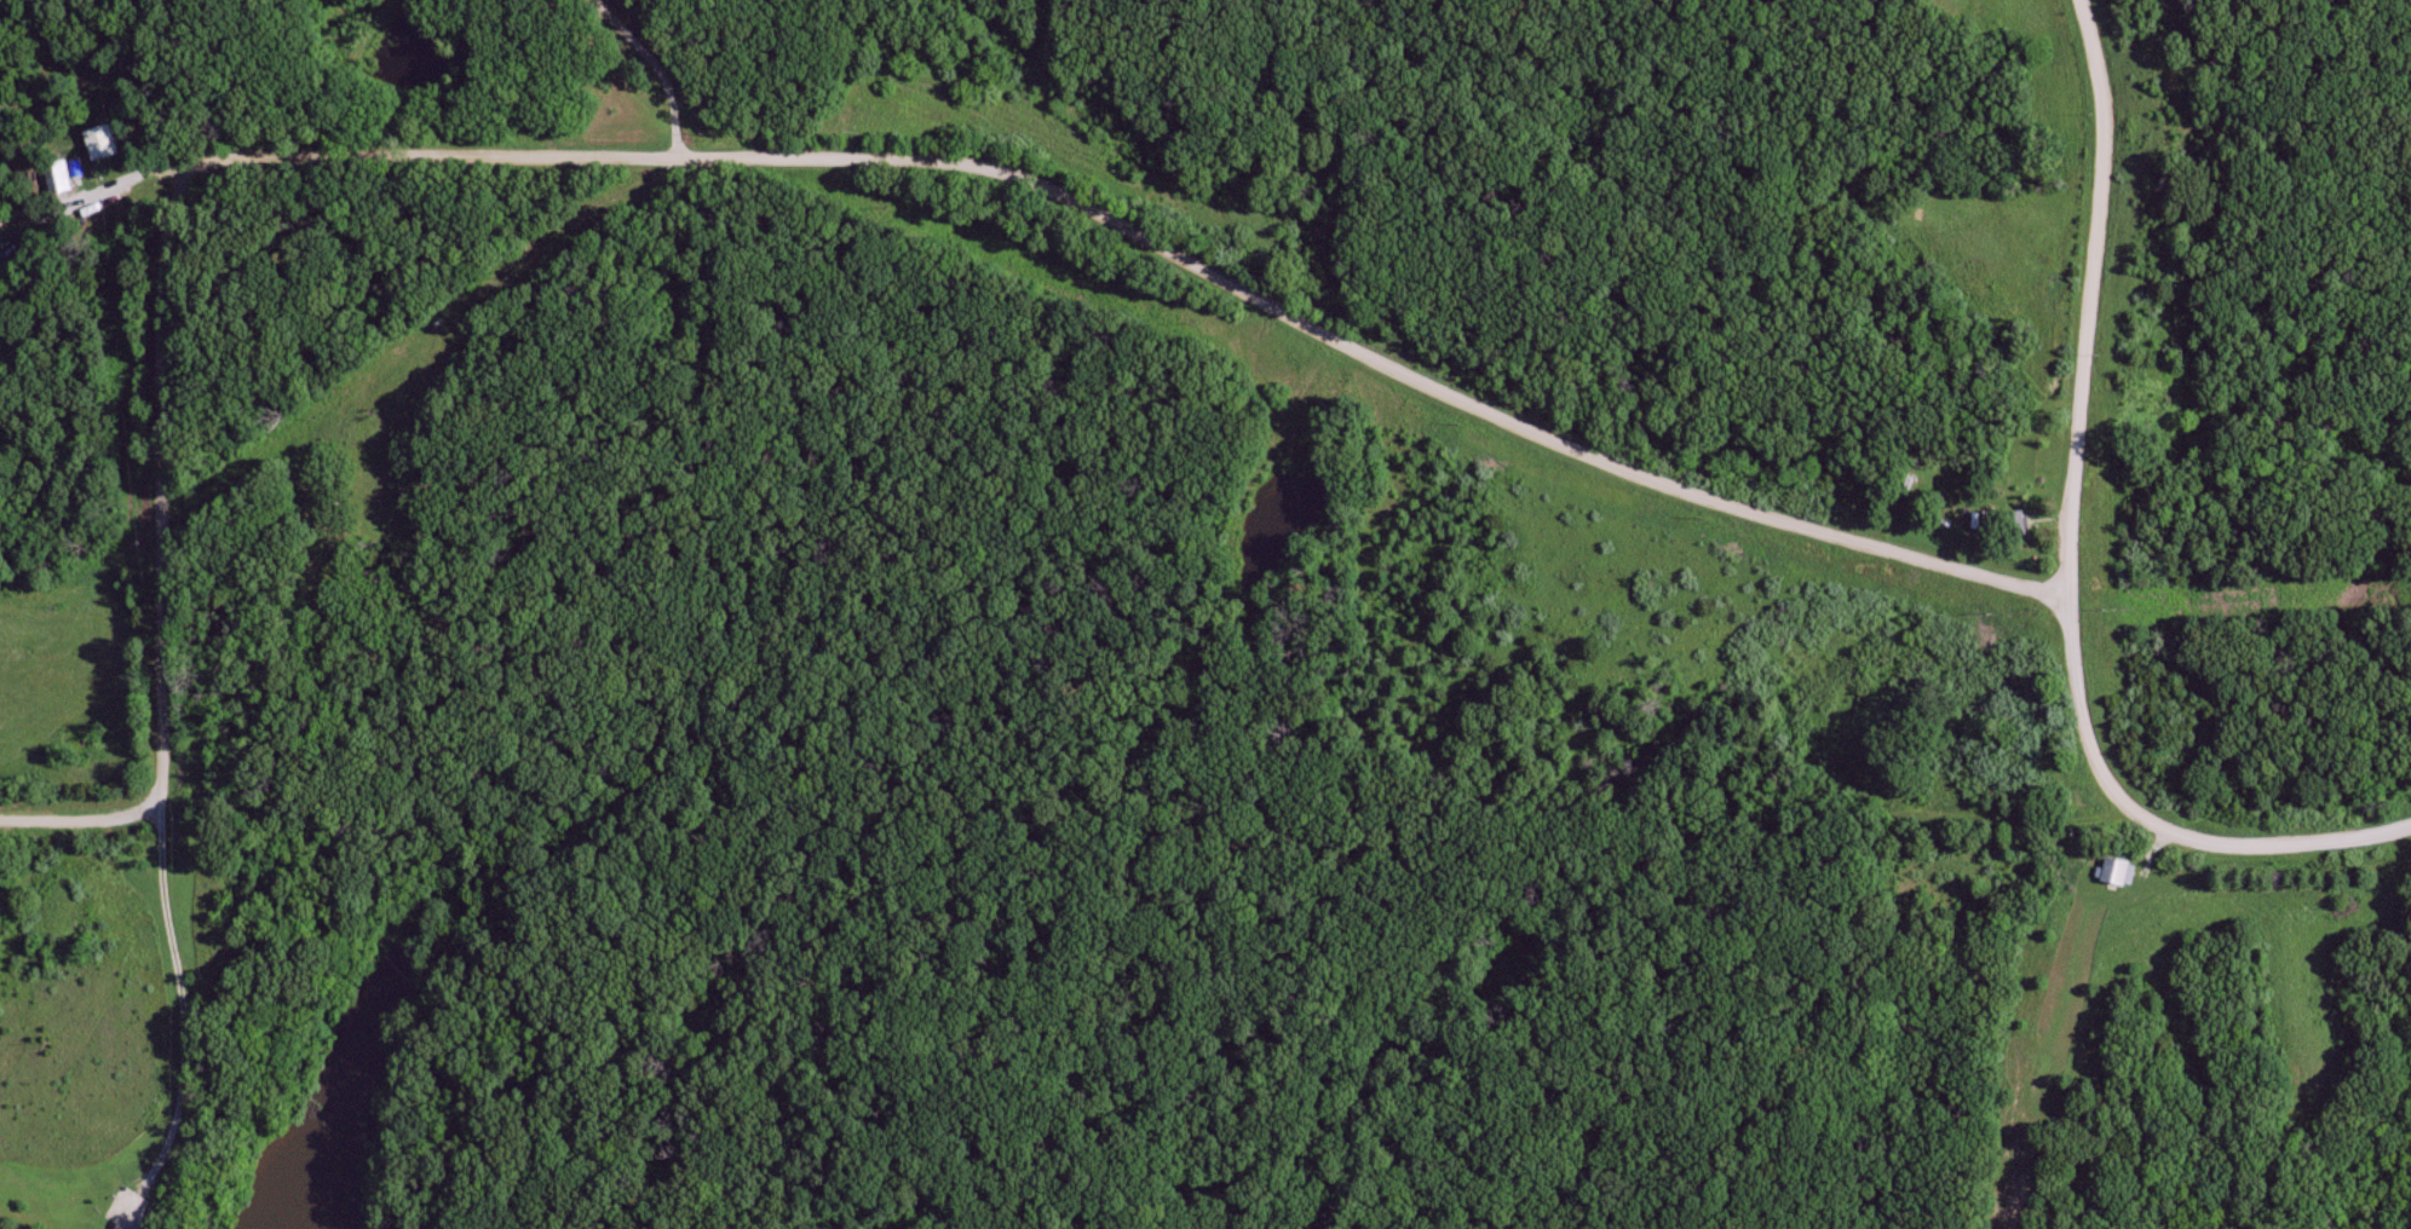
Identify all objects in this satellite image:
road: (671, 76)
road: (758, 158)
road: (2061, 561)
building: (2113, 871)
road: (183, 1009)
building: (109, 1228)

